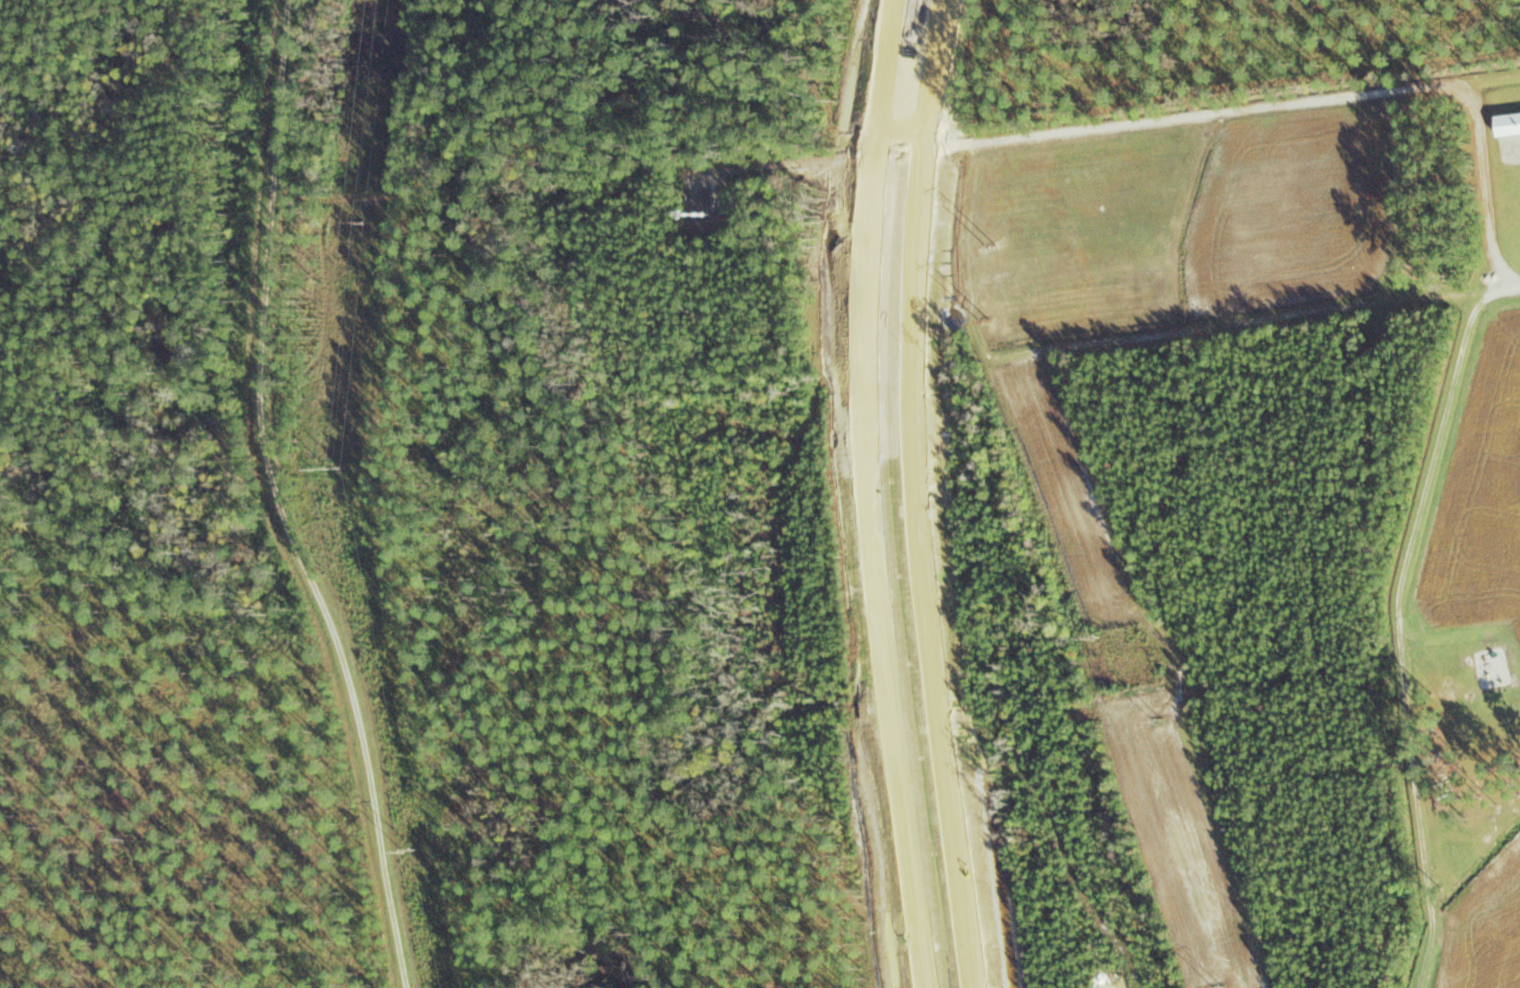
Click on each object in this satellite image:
power tower: (362, 222)
power tower: (956, 241)
power tower: (1003, 275)
power tower: (329, 467)
power tower: (1095, 638)
power tower: (1160, 720)
power tower: (410, 851)

